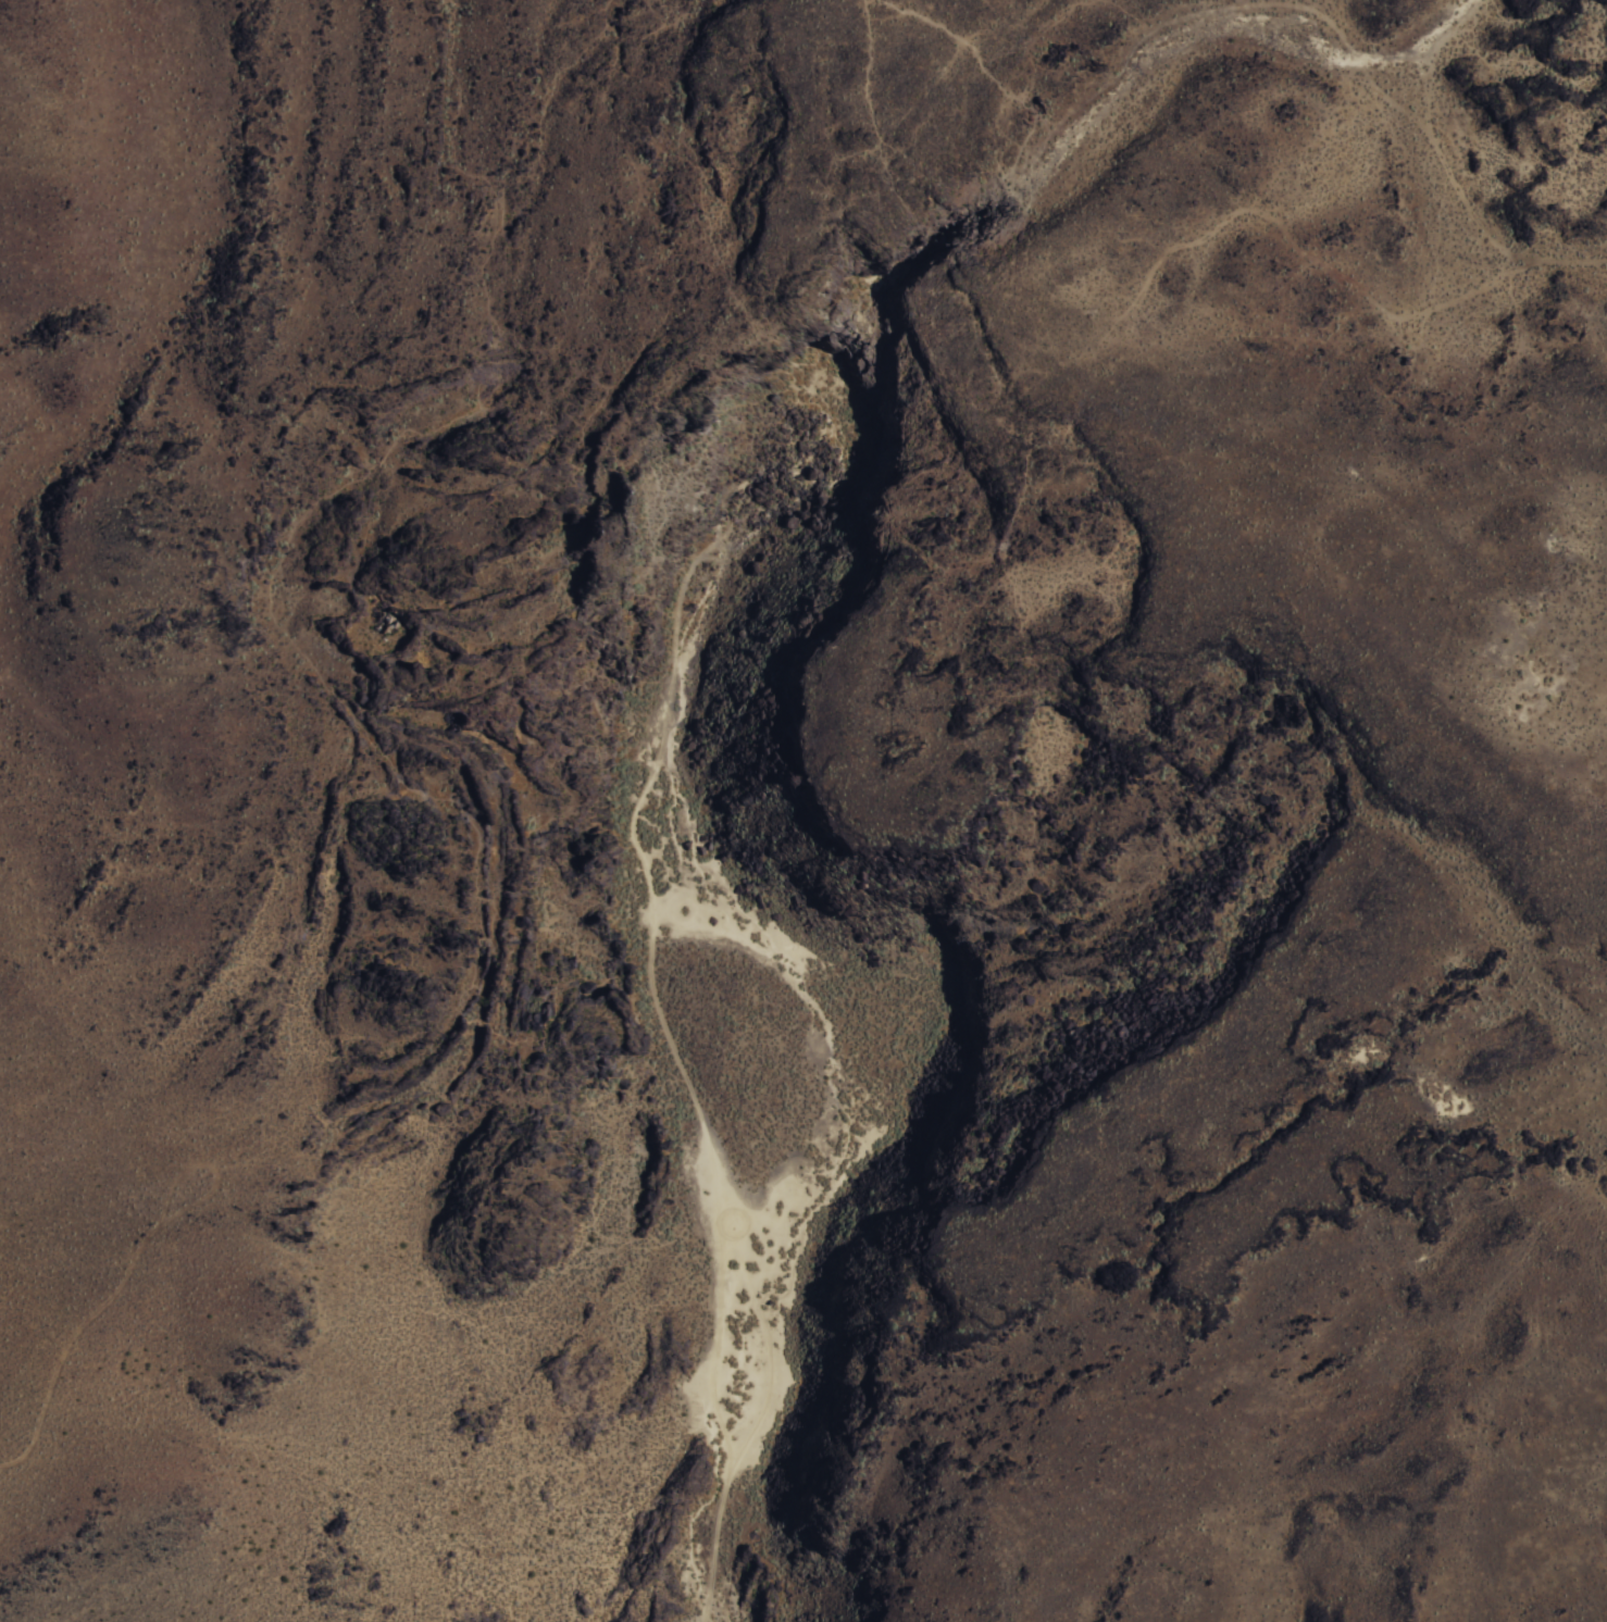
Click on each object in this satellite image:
road: (1440, 122)
road: (1039, 154)
road: (872, 204)
road: (1005, 221)

